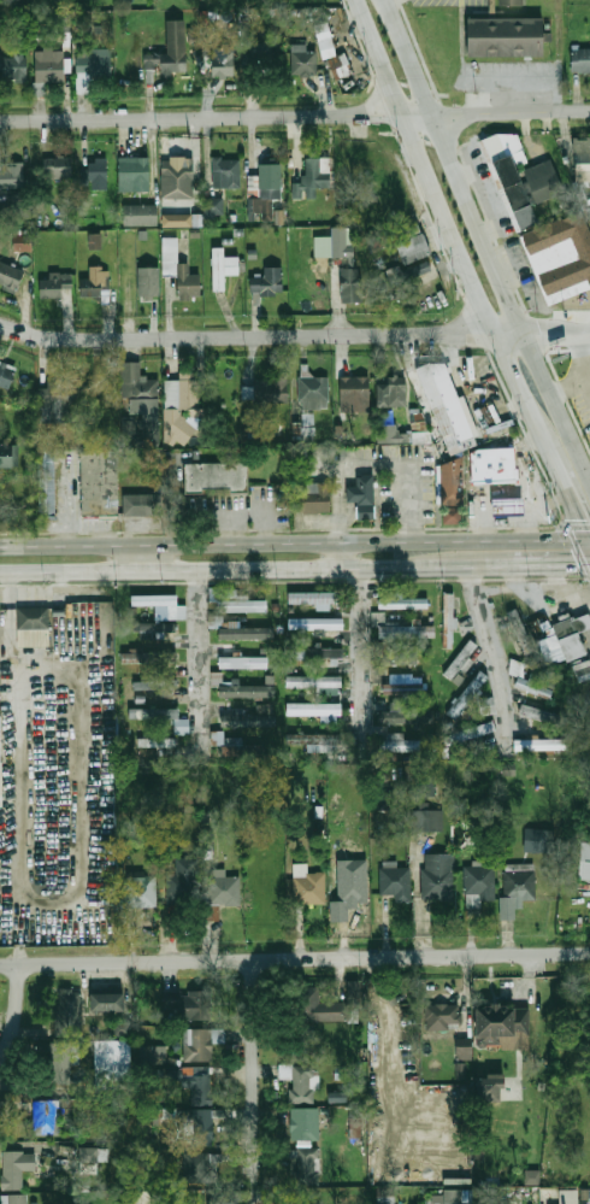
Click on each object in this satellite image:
building: (512, 0)
parking lot: (453, 4)
building: (507, 34)
building: (330, 51)
building: (170, 53)
road: (378, 57)
road: (412, 58)
building: (303, 59)
building: (580, 59)
building: (264, 65)
building: (48, 66)
building: (223, 66)
building: (92, 67)
building: (13, 69)
parking lot: (511, 76)
road: (295, 116)
building: (583, 159)
road: (454, 161)
building: (58, 168)
building: (177, 171)
building: (226, 171)
building: (11, 174)
building: (99, 174)
building: (134, 174)
building: (317, 174)
building: (523, 175)
building: (271, 182)
parking lot: (492, 189)
building: (18, 205)
building: (213, 206)
building: (140, 215)
building: (176, 219)
building: (22, 241)
building: (94, 241)
building: (412, 243)
building: (561, 257)
building: (349, 262)
building: (178, 268)
building: (222, 268)
parking lot: (524, 269)
road: (465, 270)
building: (401, 274)
building: (10, 276)
building: (267, 281)
building: (148, 282)
building: (94, 283)
building: (55, 284)
parking lot: (579, 316)
road: (294, 334)
road: (530, 346)
road: (583, 358)
building: (6, 375)
building: (354, 388)
building: (138, 390)
building: (266, 390)
building: (314, 392)
building: (390, 392)
building: (57, 403)
building: (179, 406)
building: (448, 406)
parking lot: (583, 409)
building: (308, 424)
building: (393, 433)
building: (10, 456)
road: (372, 464)
building: (497, 465)
building: (216, 476)
building: (48, 480)
road: (555, 480)
building: (101, 481)
building: (453, 482)
building: (361, 497)
building: (312, 498)
building: (142, 499)
building: (506, 505)
gas station: (506, 505)
building: (453, 515)
traffic signals: (572, 519)
road: (584, 535)
road: (289, 540)
road: (584, 548)
road: (346, 553)
road: (141, 556)
road: (535, 564)
traffic signals: (578, 564)
road: (241, 568)
building: (313, 598)
building: (400, 601)
building: (163, 604)
building: (242, 605)
road: (8, 613)
building: (448, 618)
building: (34, 619)
building: (317, 623)
building: (584, 623)
building: (513, 627)
building: (155, 629)
building: (401, 629)
building: (246, 633)
building: (570, 633)
building: (35, 640)
road: (489, 648)
building: (297, 652)
road: (196, 653)
building: (324, 653)
road: (43, 654)
building: (400, 656)
building: (148, 658)
road: (358, 658)
building: (460, 658)
building: (242, 662)
building: (582, 670)
building: (313, 682)
building: (533, 682)
building: (403, 683)
building: (155, 685)
building: (244, 691)
building: (470, 692)
building: (486, 705)
building: (264, 709)
building: (314, 710)
building: (543, 715)
building: (406, 716)
building: (161, 717)
building: (248, 720)
building: (470, 733)
building: (217, 738)
building: (317, 740)
building: (399, 741)
building: (157, 742)
building: (543, 744)
building: (1, 763)
building: (489, 764)
building: (508, 770)
building: (425, 785)
building: (427, 820)
building: (538, 840)
building: (207, 846)
building: (583, 861)
building: (438, 876)
building: (477, 879)
building: (183, 881)
building: (396, 882)
building: (517, 887)
building: (224, 888)
building: (309, 888)
building: (353, 888)
building: (141, 891)
road: (294, 961)
building: (106, 1002)
building: (190, 1005)
building: (318, 1006)
building: (70, 1011)
road: (14, 1017)
building: (443, 1017)
building: (501, 1023)
building: (120, 1028)
building: (301, 1043)
building: (199, 1044)
building: (462, 1049)
building: (63, 1061)
building: (113, 1063)
road: (250, 1065)
building: (300, 1081)
building: (199, 1086)
building: (486, 1090)
building: (337, 1096)
building: (46, 1117)
building: (303, 1124)
building: (200, 1129)
building: (96, 1156)
building: (210, 1159)
building: (307, 1167)
building: (16, 1168)
building: (453, 1197)
building: (142, 1198)
building: (18, 1199)
building: (385, 1199)
building: (576, 1199)
road: (509, 1200)

